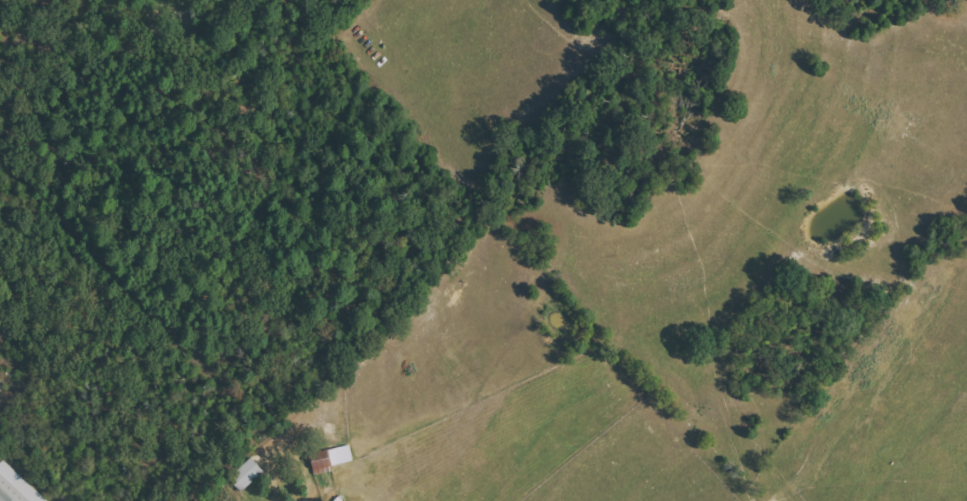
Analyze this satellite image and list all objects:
building: (334, 458)
building: (247, 475)
road: (272, 480)
building: (16, 486)

